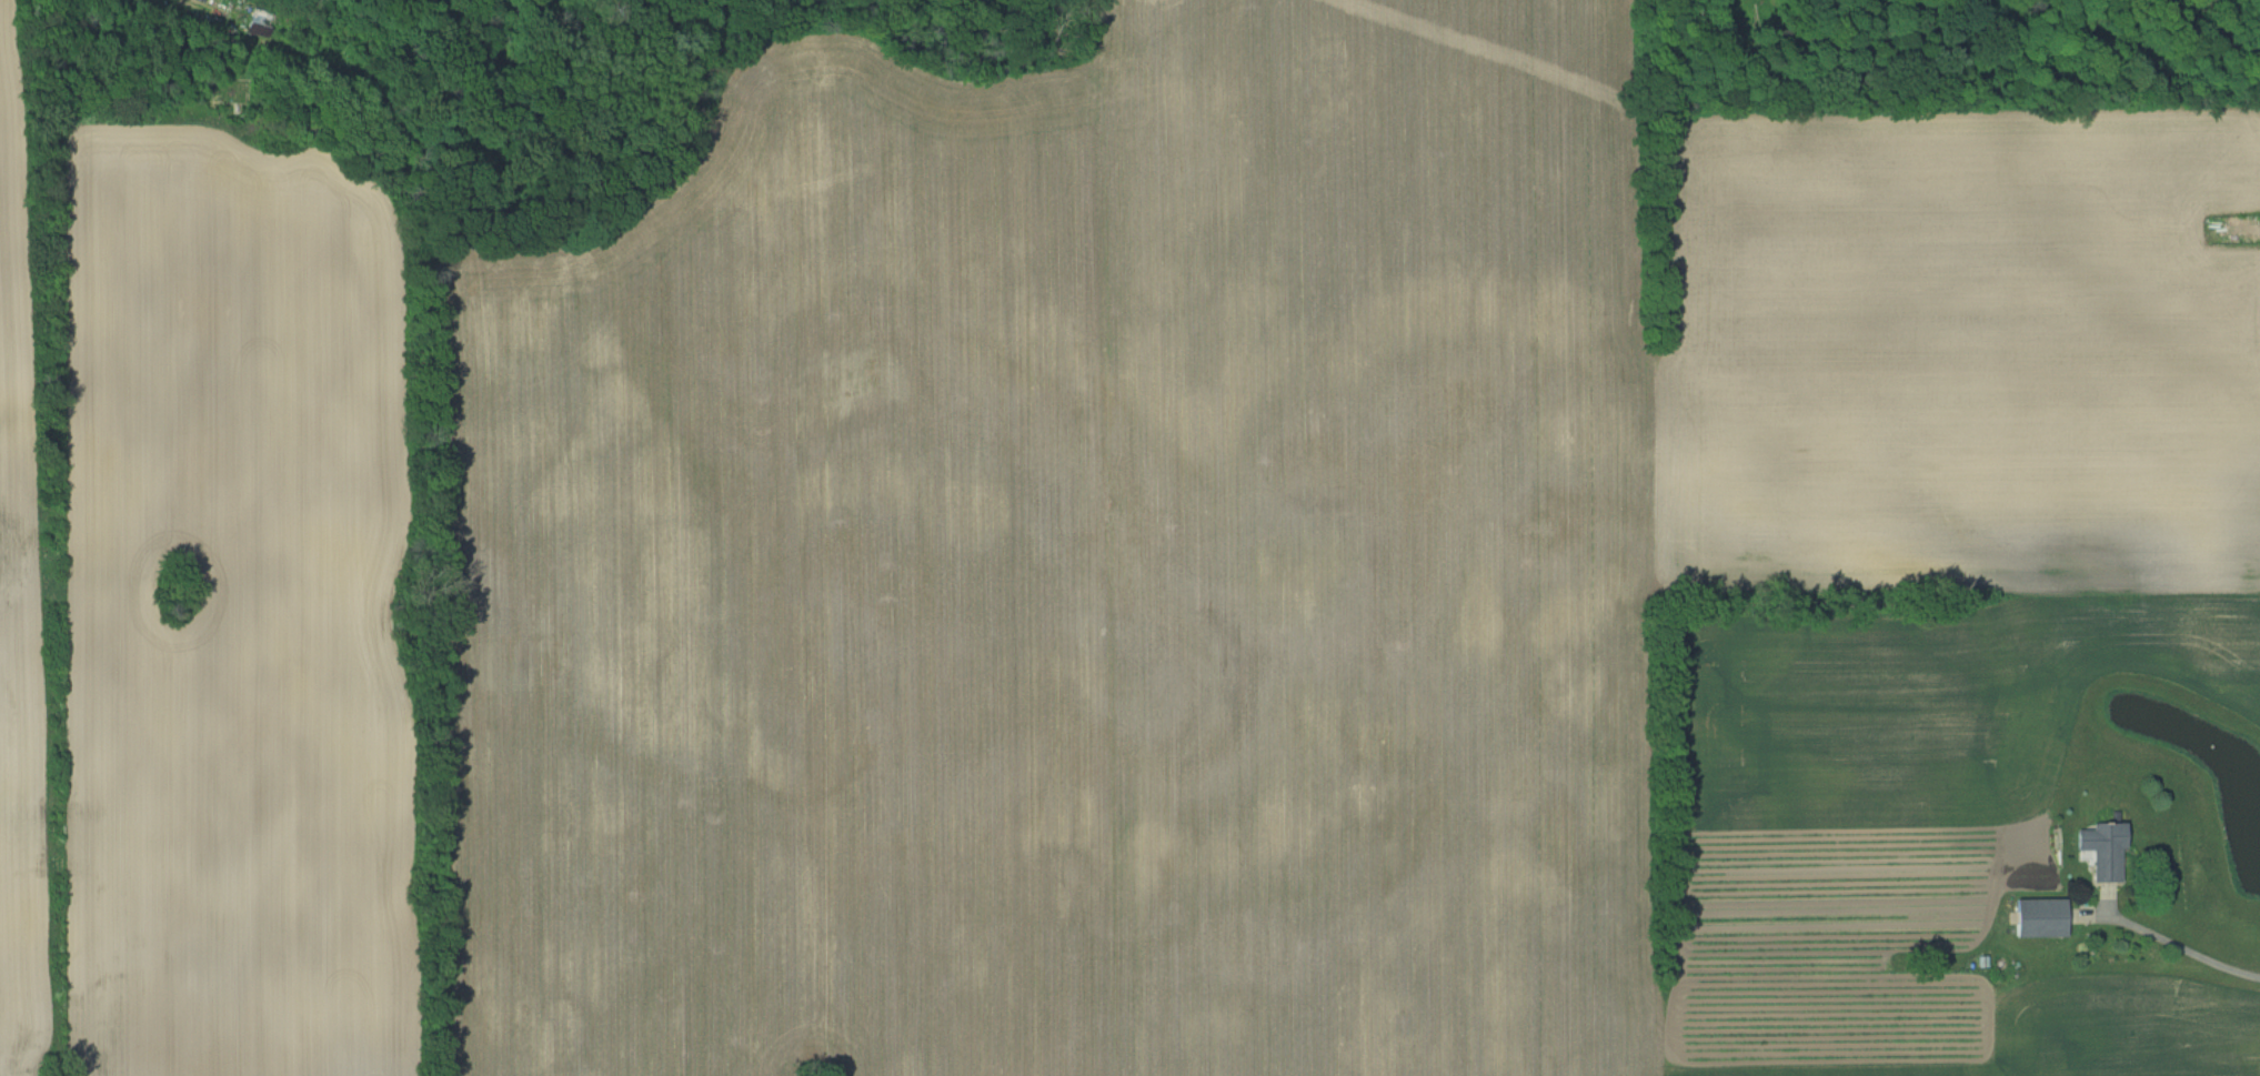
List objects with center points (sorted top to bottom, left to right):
building: (2233, 230)
building: (2101, 851)
building: (2038, 917)
road: (2187, 949)

